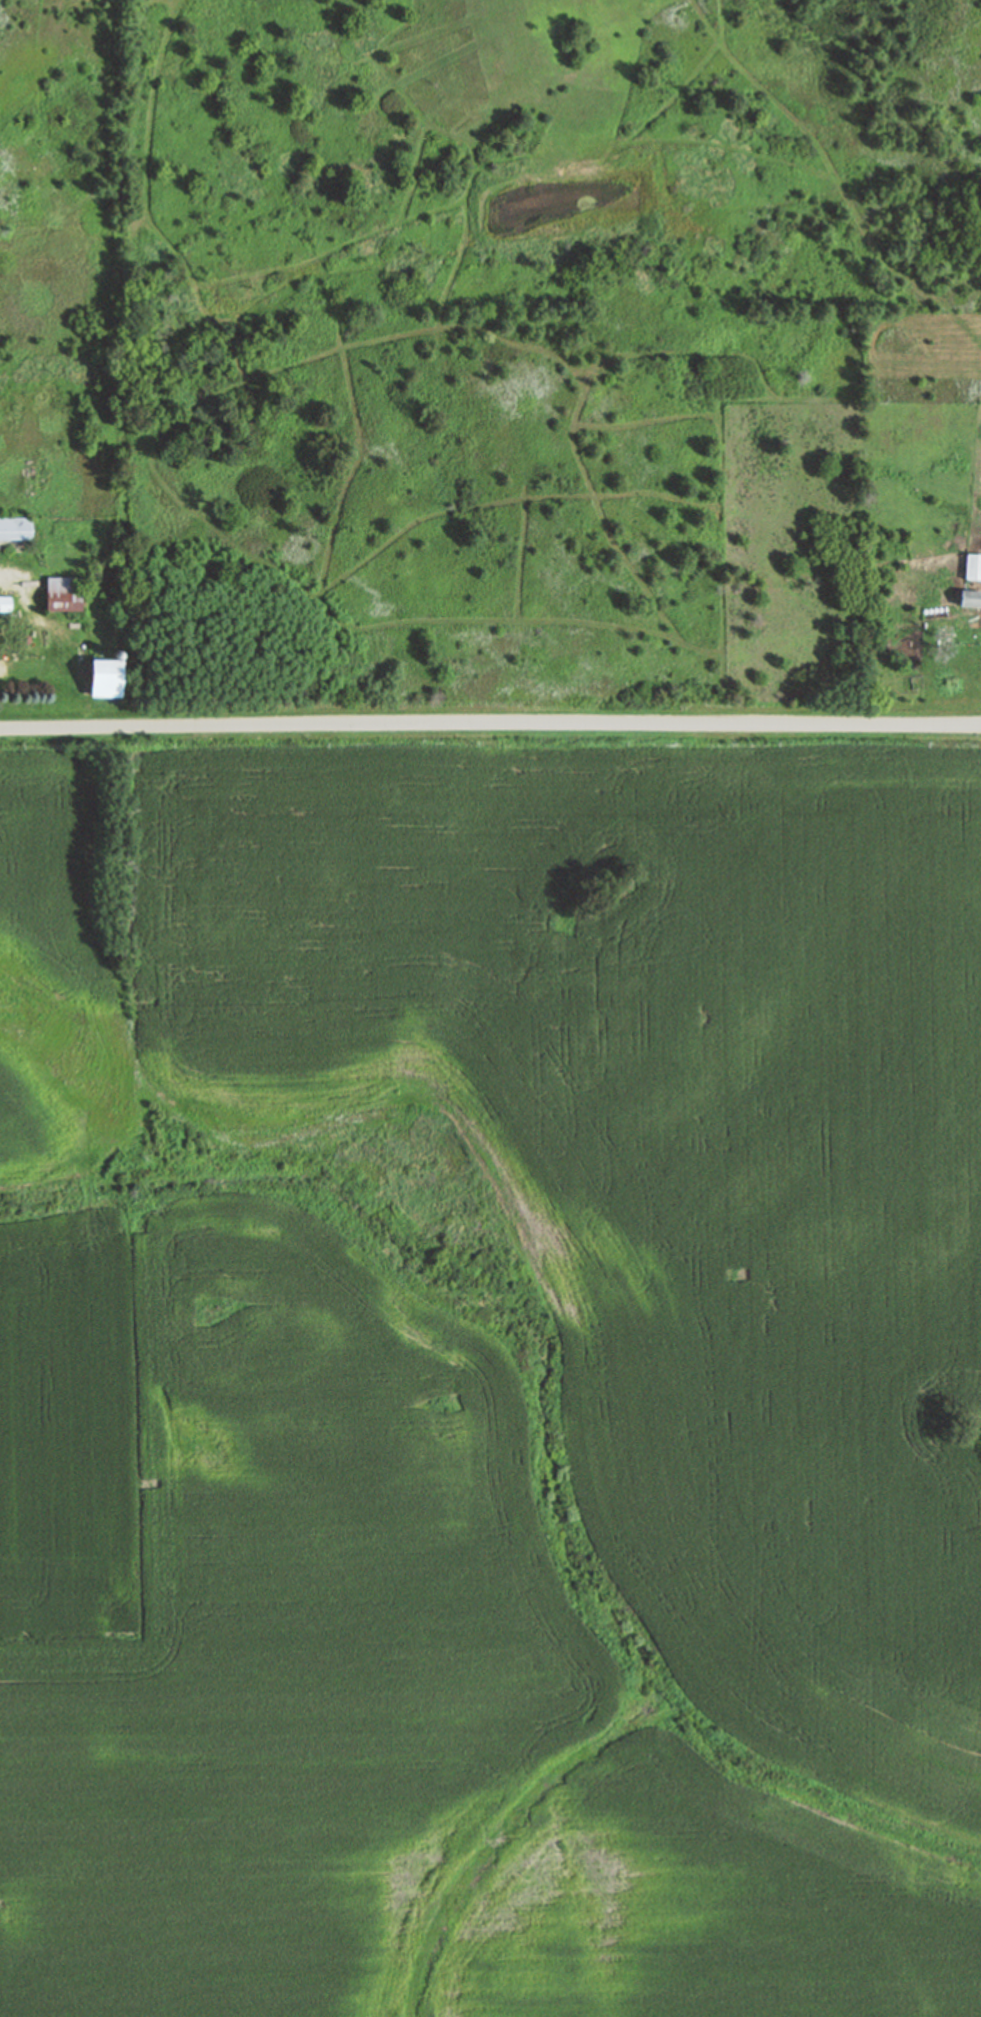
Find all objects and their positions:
building: (15, 527)
building: (973, 566)
building: (63, 592)
building: (968, 598)
building: (5, 602)
road: (24, 622)
building: (104, 678)
road: (490, 721)

